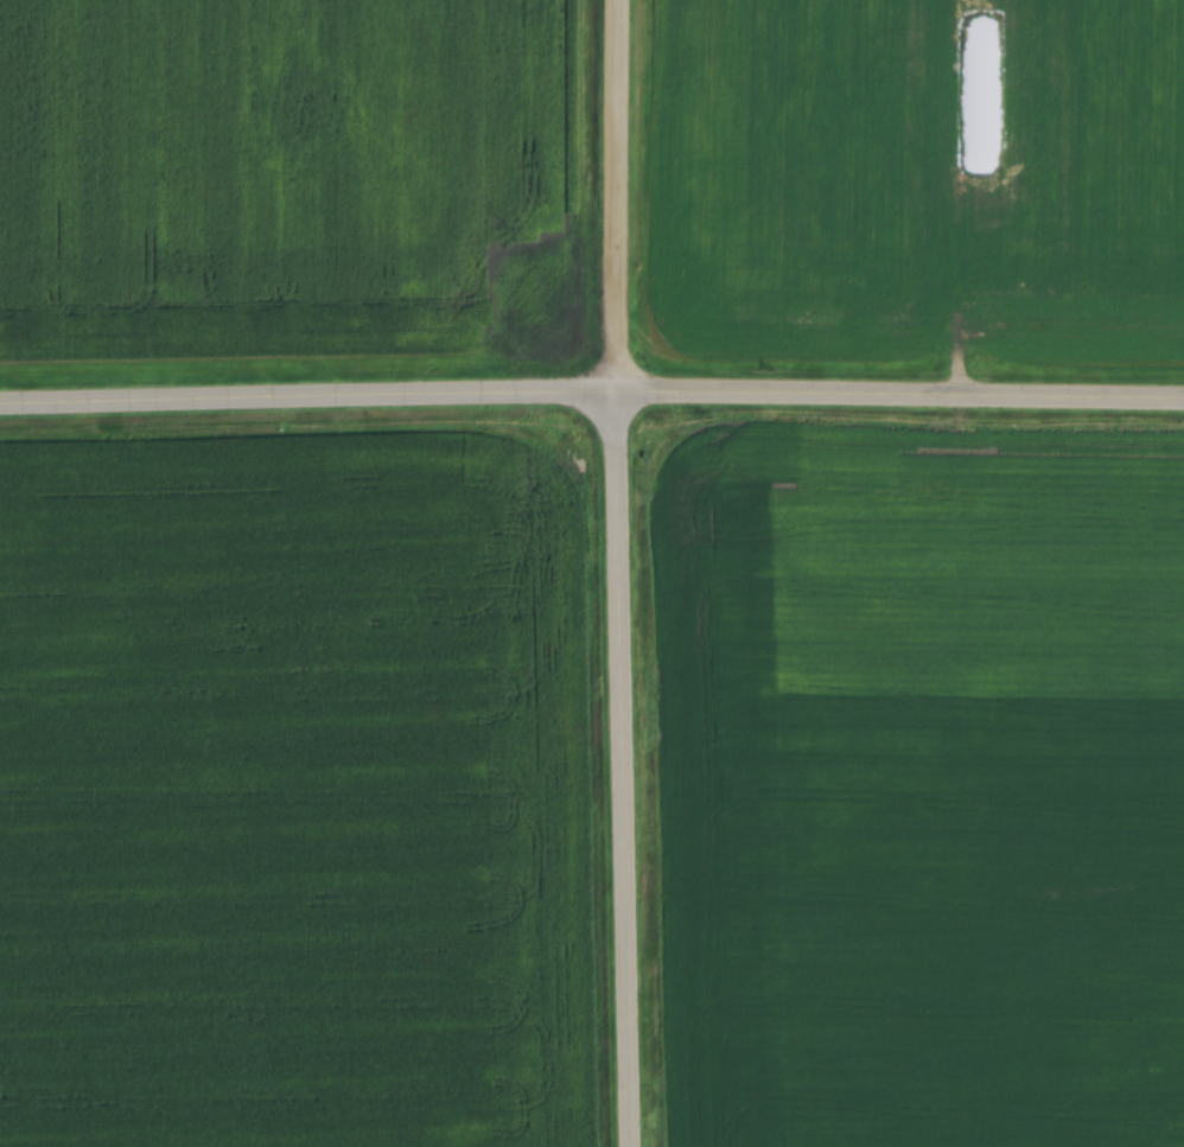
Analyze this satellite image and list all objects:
road: (622, 200)
road: (902, 404)
road: (310, 408)
road: (625, 775)

